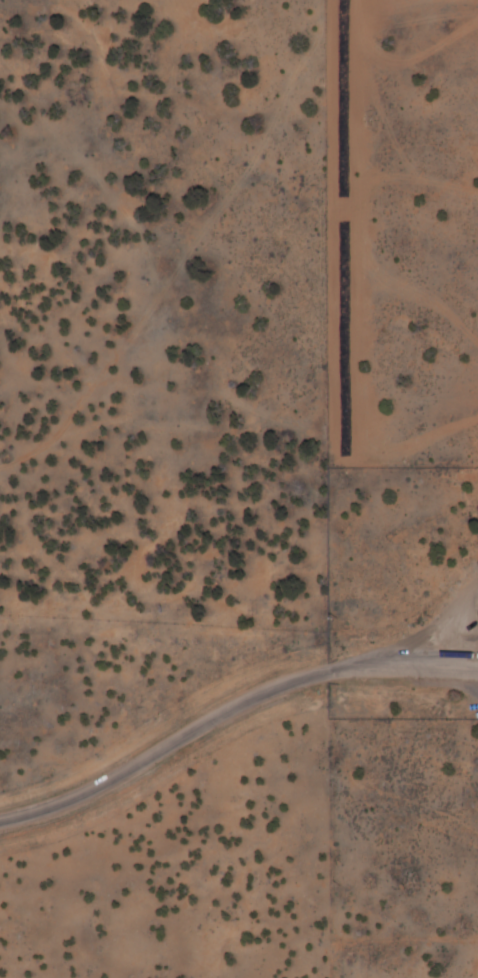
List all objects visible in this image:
road: (187, 233)
road: (223, 417)
road: (41, 451)
road: (227, 708)

